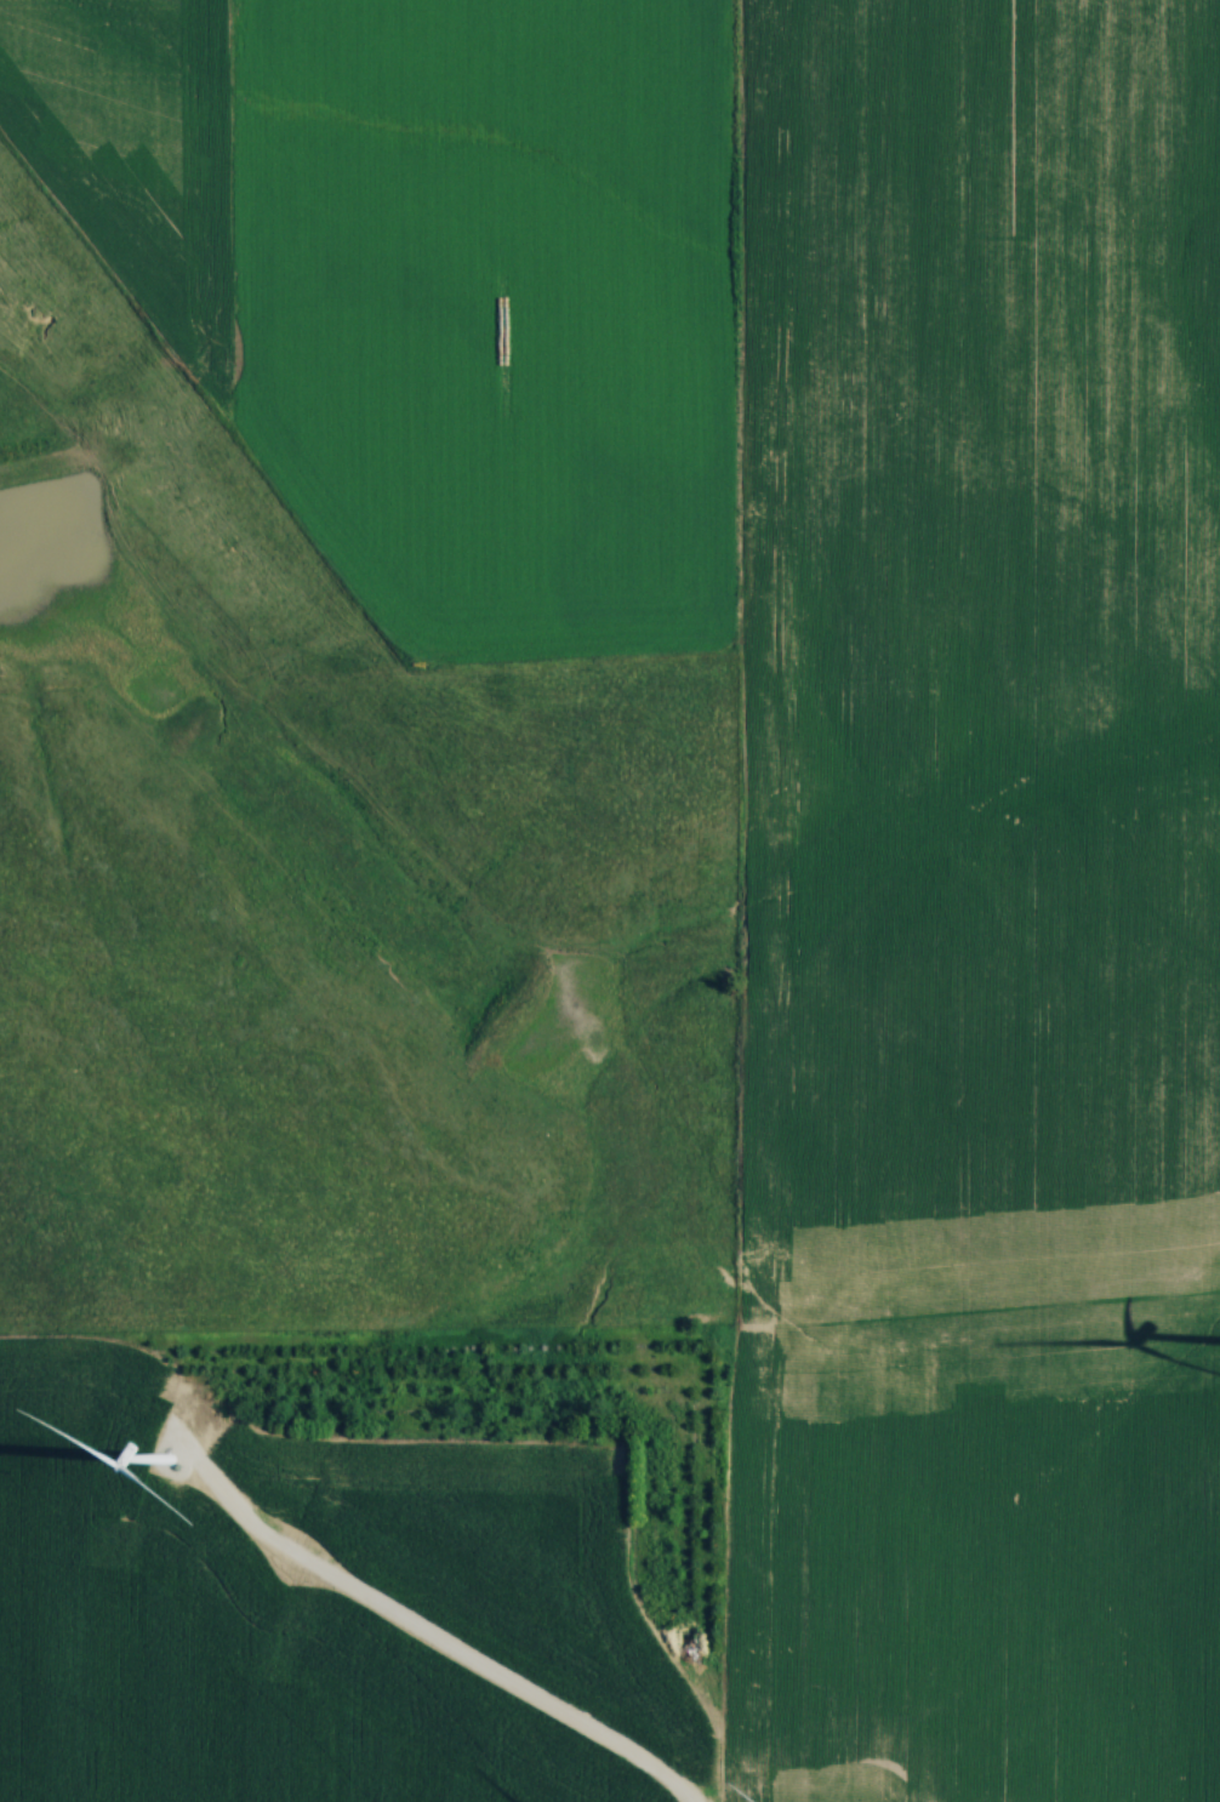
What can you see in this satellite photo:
wind turbine: (170, 1458)
road: (462, 1654)

